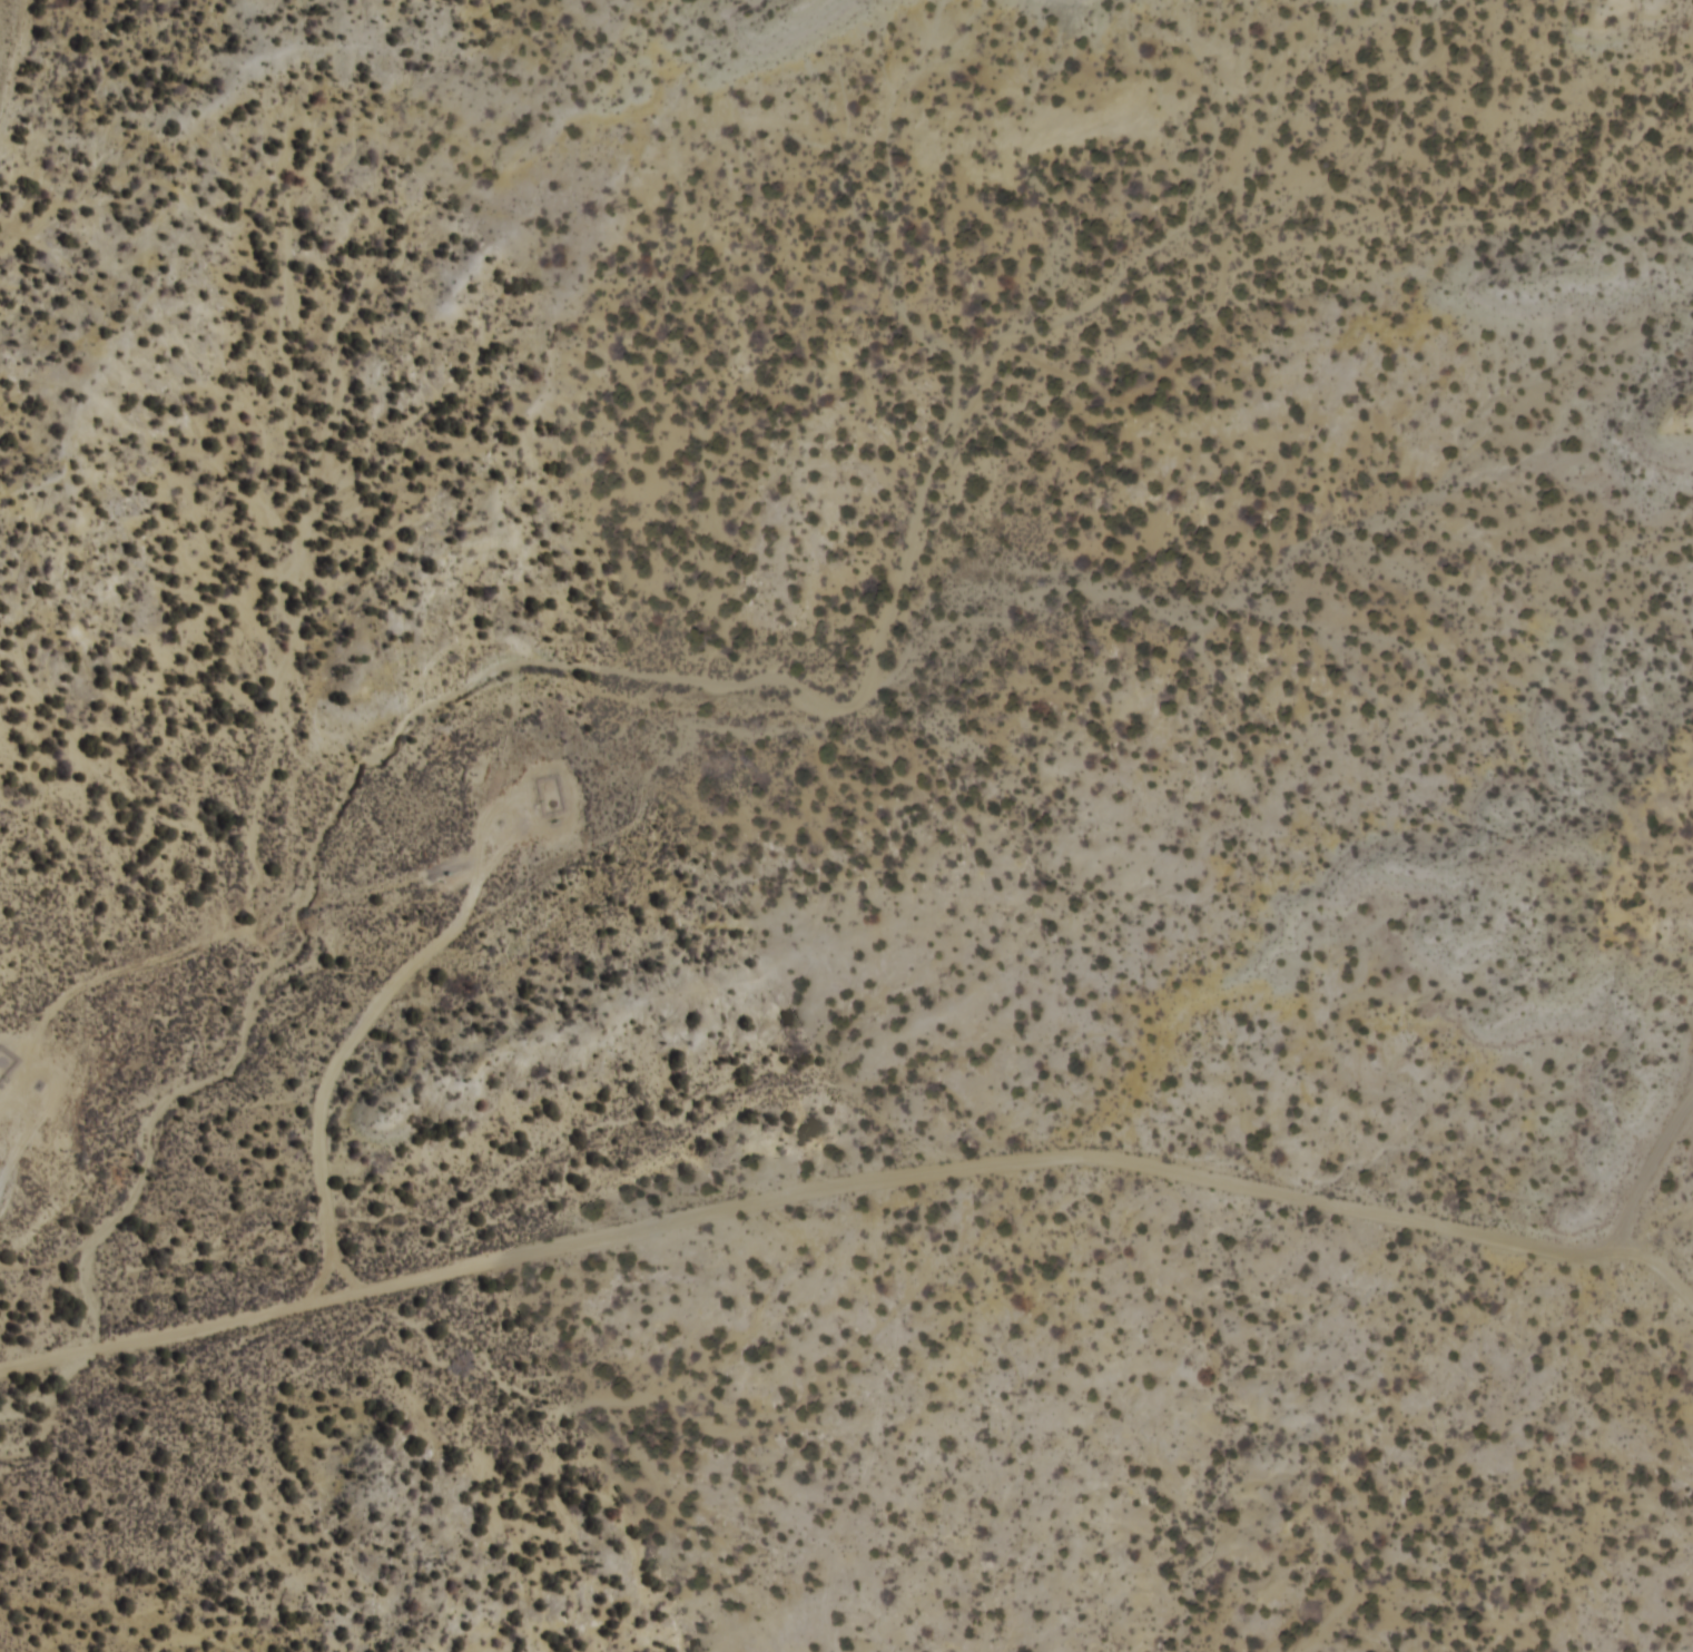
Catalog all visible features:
road: (460, 894)
road: (868, 1169)

